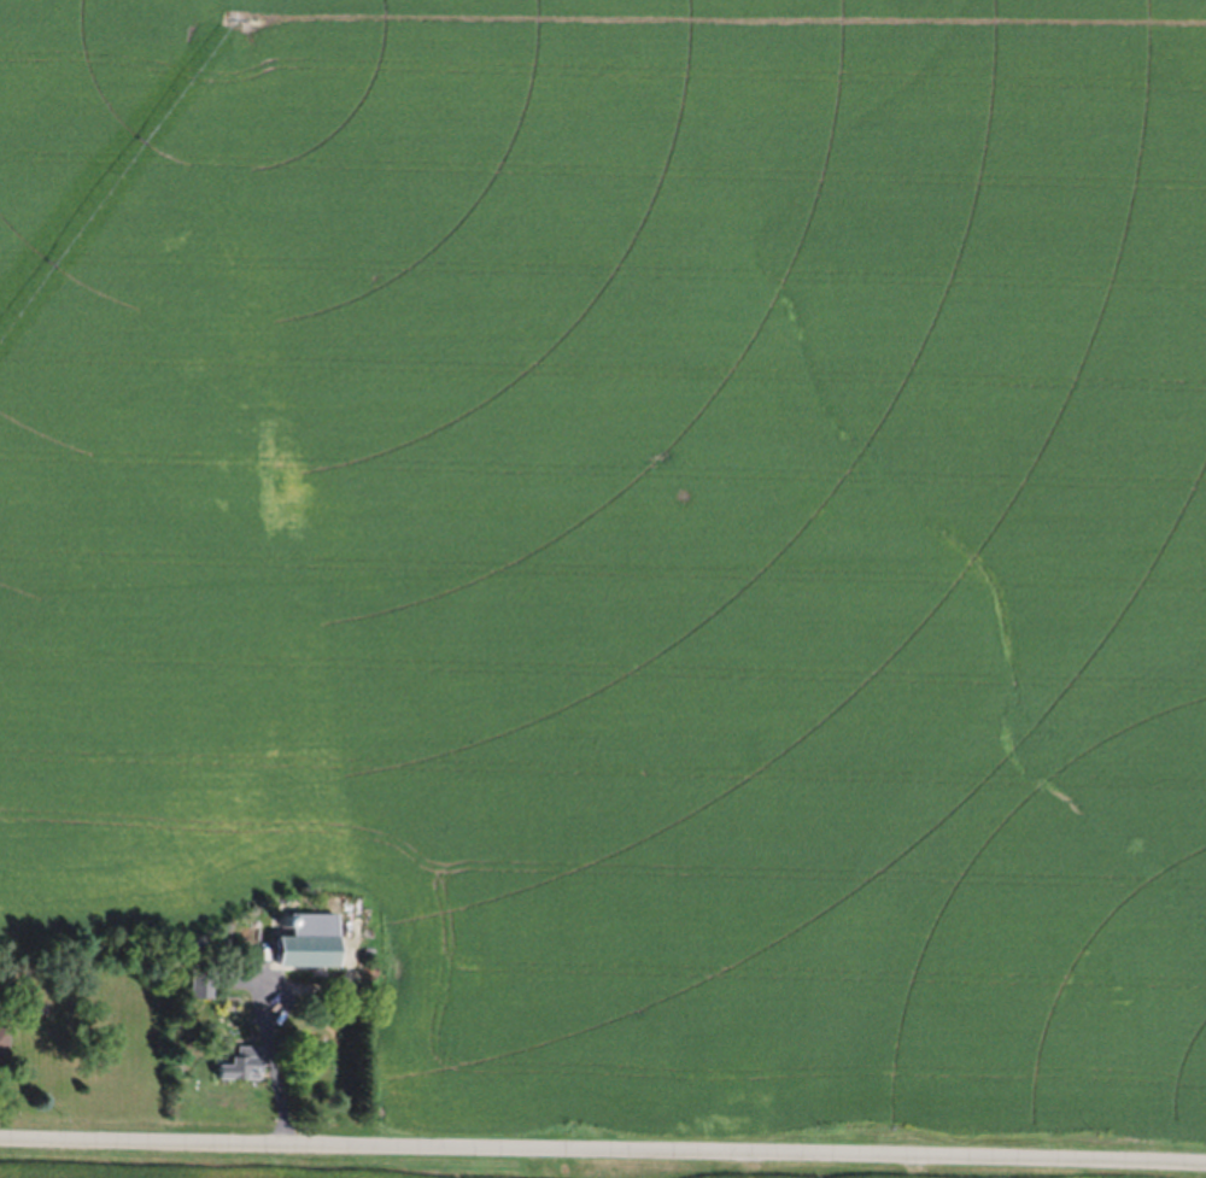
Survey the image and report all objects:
building: (298, 939)
building: (1, 1039)
building: (236, 1062)
road: (603, 1144)

